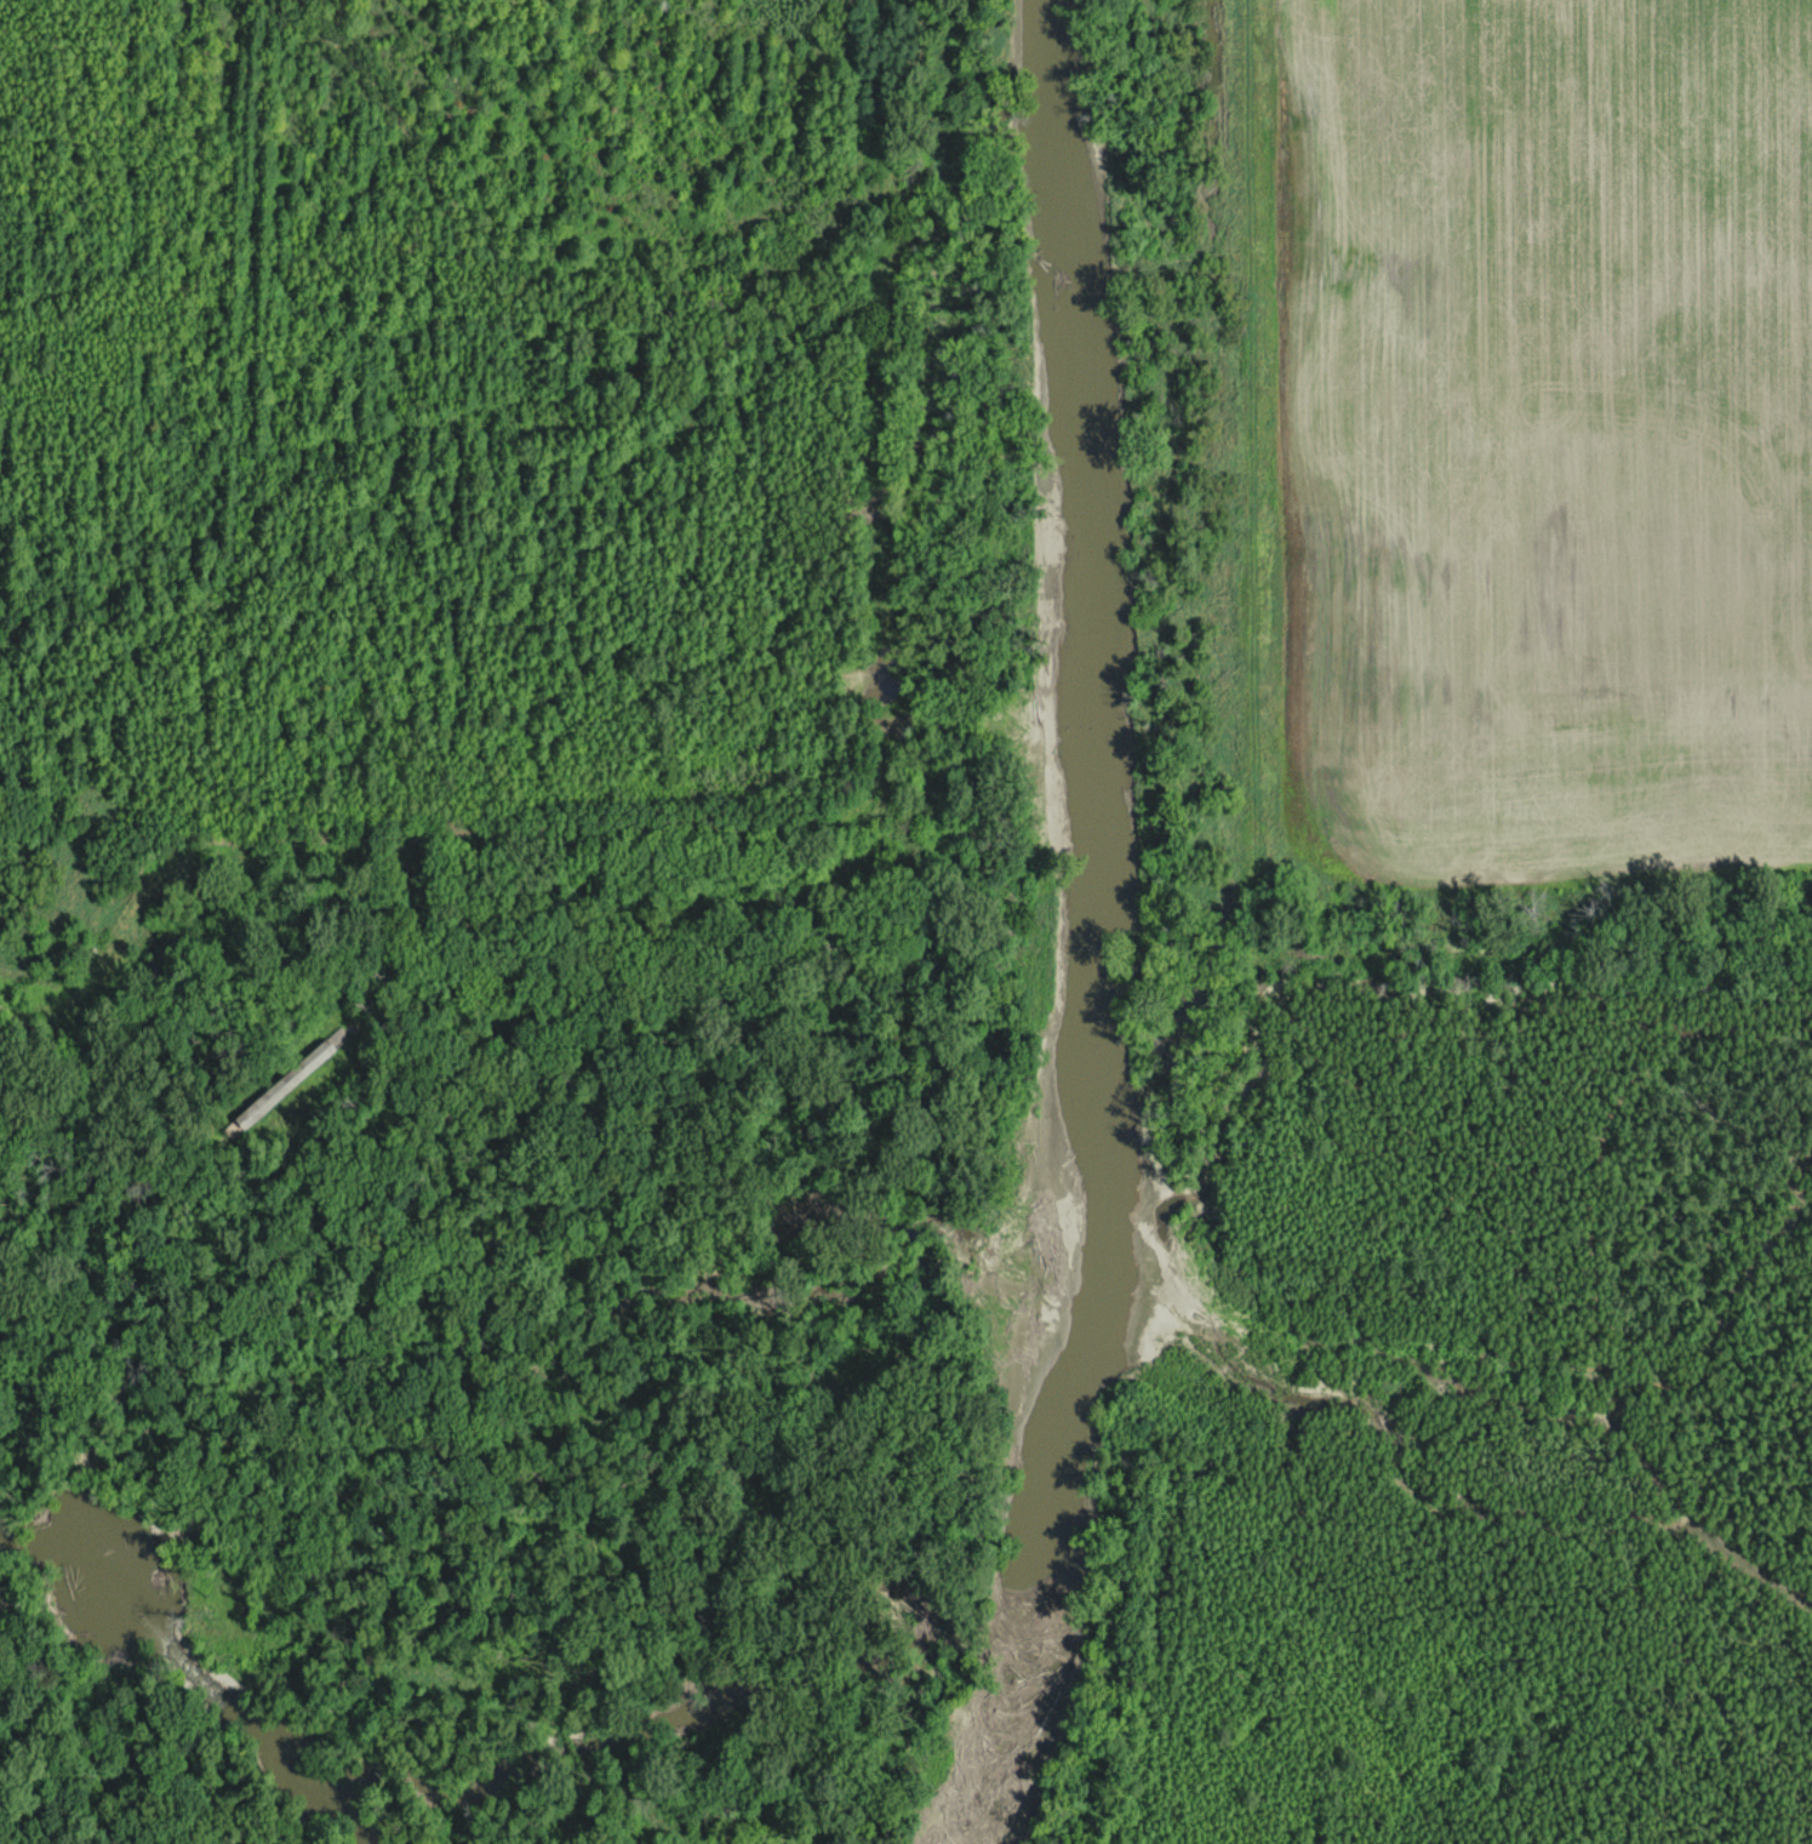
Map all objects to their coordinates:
river: (1062, 565)
road: (441, 995)
road: (119, 1069)
road: (285, 1084)
river: (1039, 1491)

